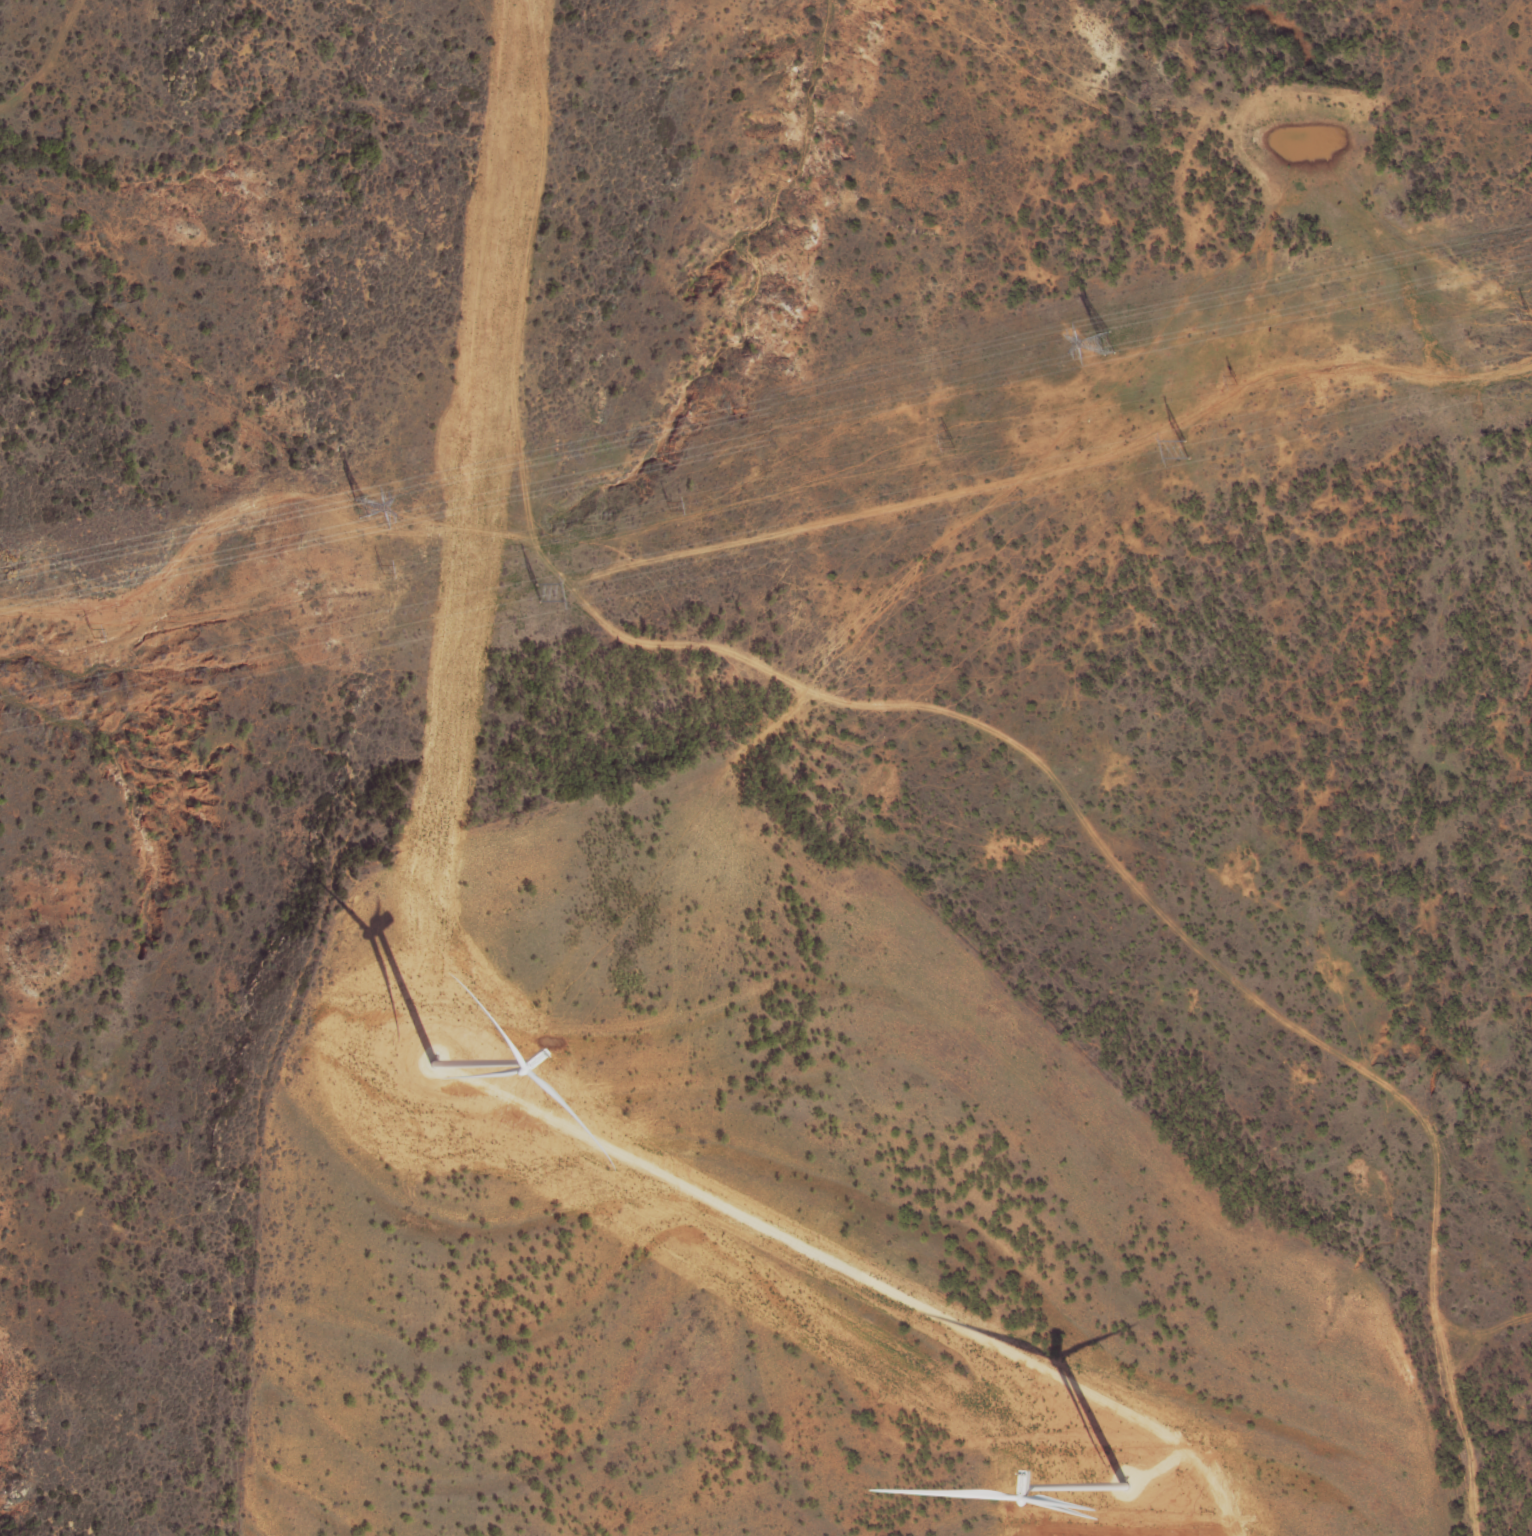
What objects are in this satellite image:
power tower: (1531, 315)
power tower: (1102, 344)
power tower: (1239, 380)
power tower: (953, 443)
power tower: (1184, 448)
power tower: (669, 505)
power tower: (357, 506)
power tower: (379, 570)
power tower: (535, 592)
power tower: (92, 632)
road: (968, 719)
wind turbine: (436, 1060)
road: (870, 1281)
wind turbine: (1127, 1485)

